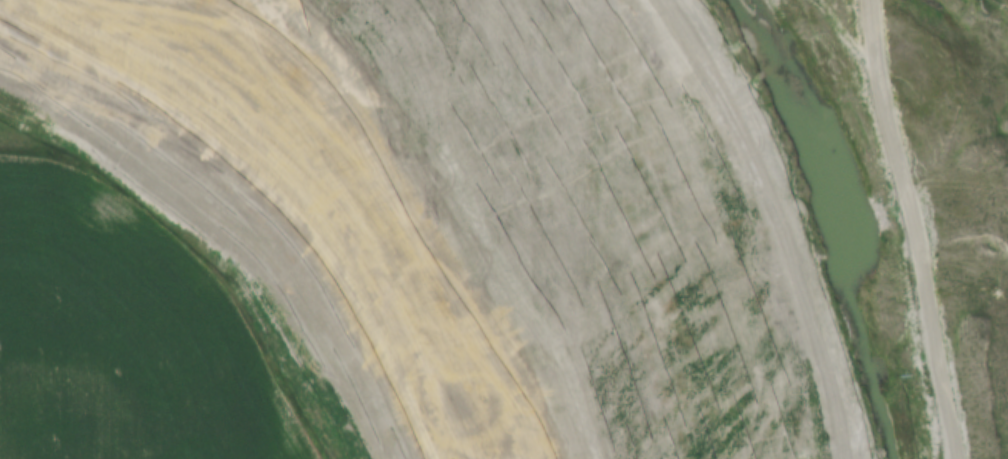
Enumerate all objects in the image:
road: (299, 174)
road: (894, 221)

